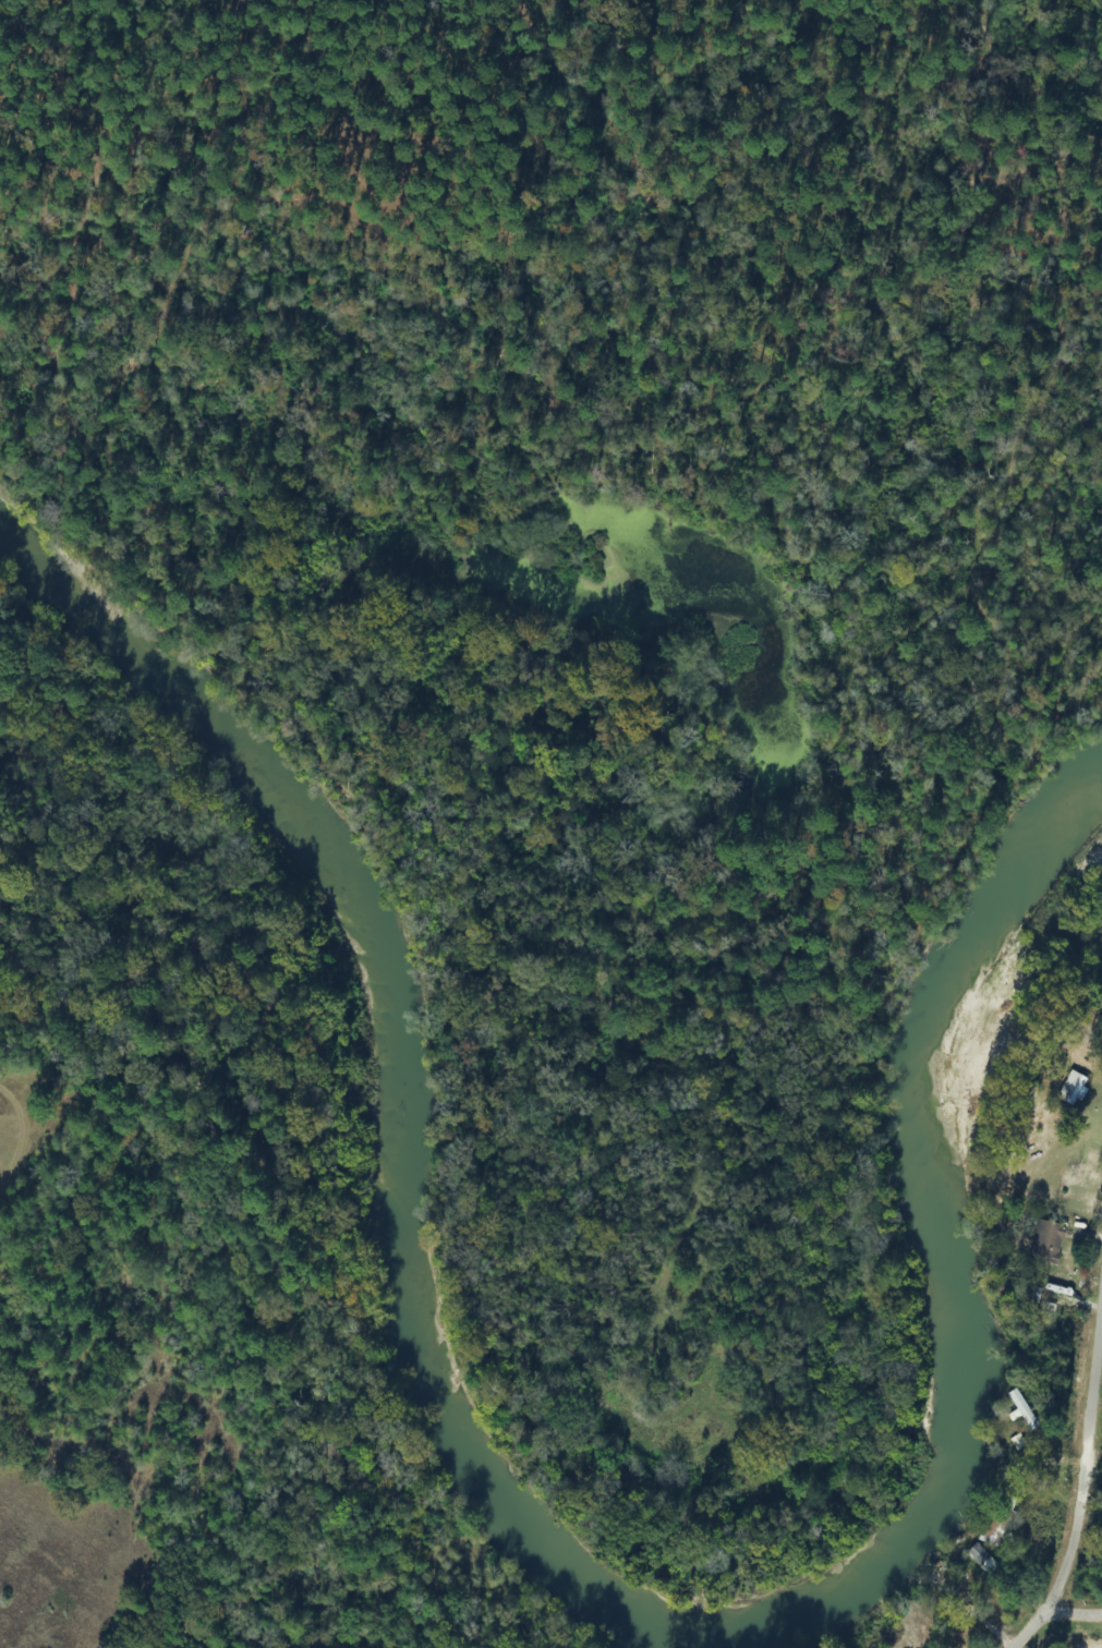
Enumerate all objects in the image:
building: (1071, 1088)
building: (1045, 1241)
building: (1022, 1409)
building: (992, 1528)
road: (1077, 1544)
road: (1081, 1615)

